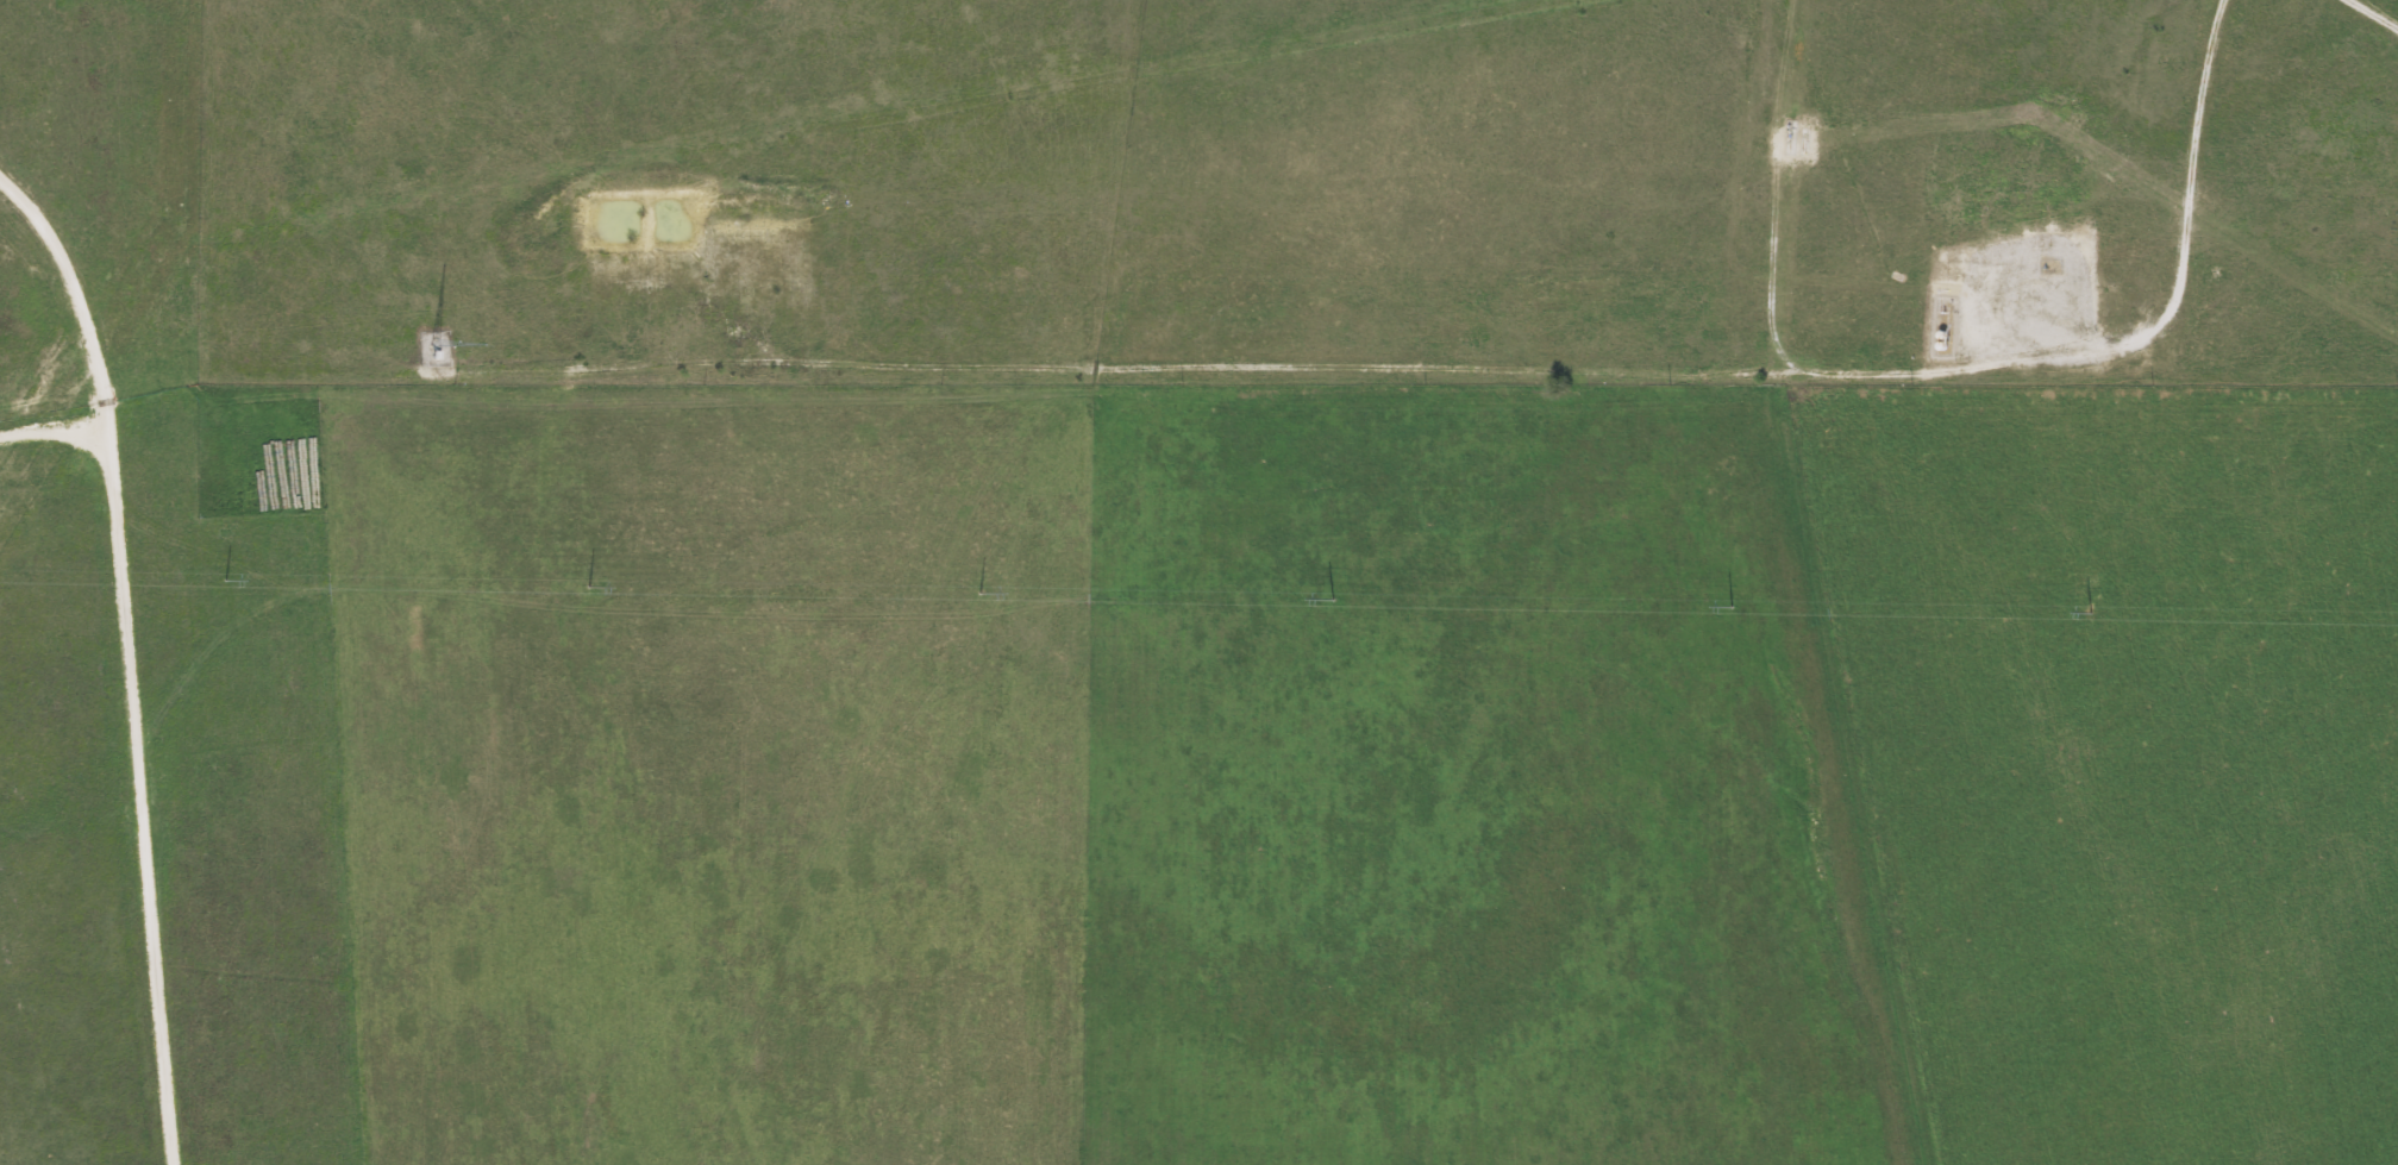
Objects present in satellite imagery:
road: (51, 428)
road: (129, 653)

